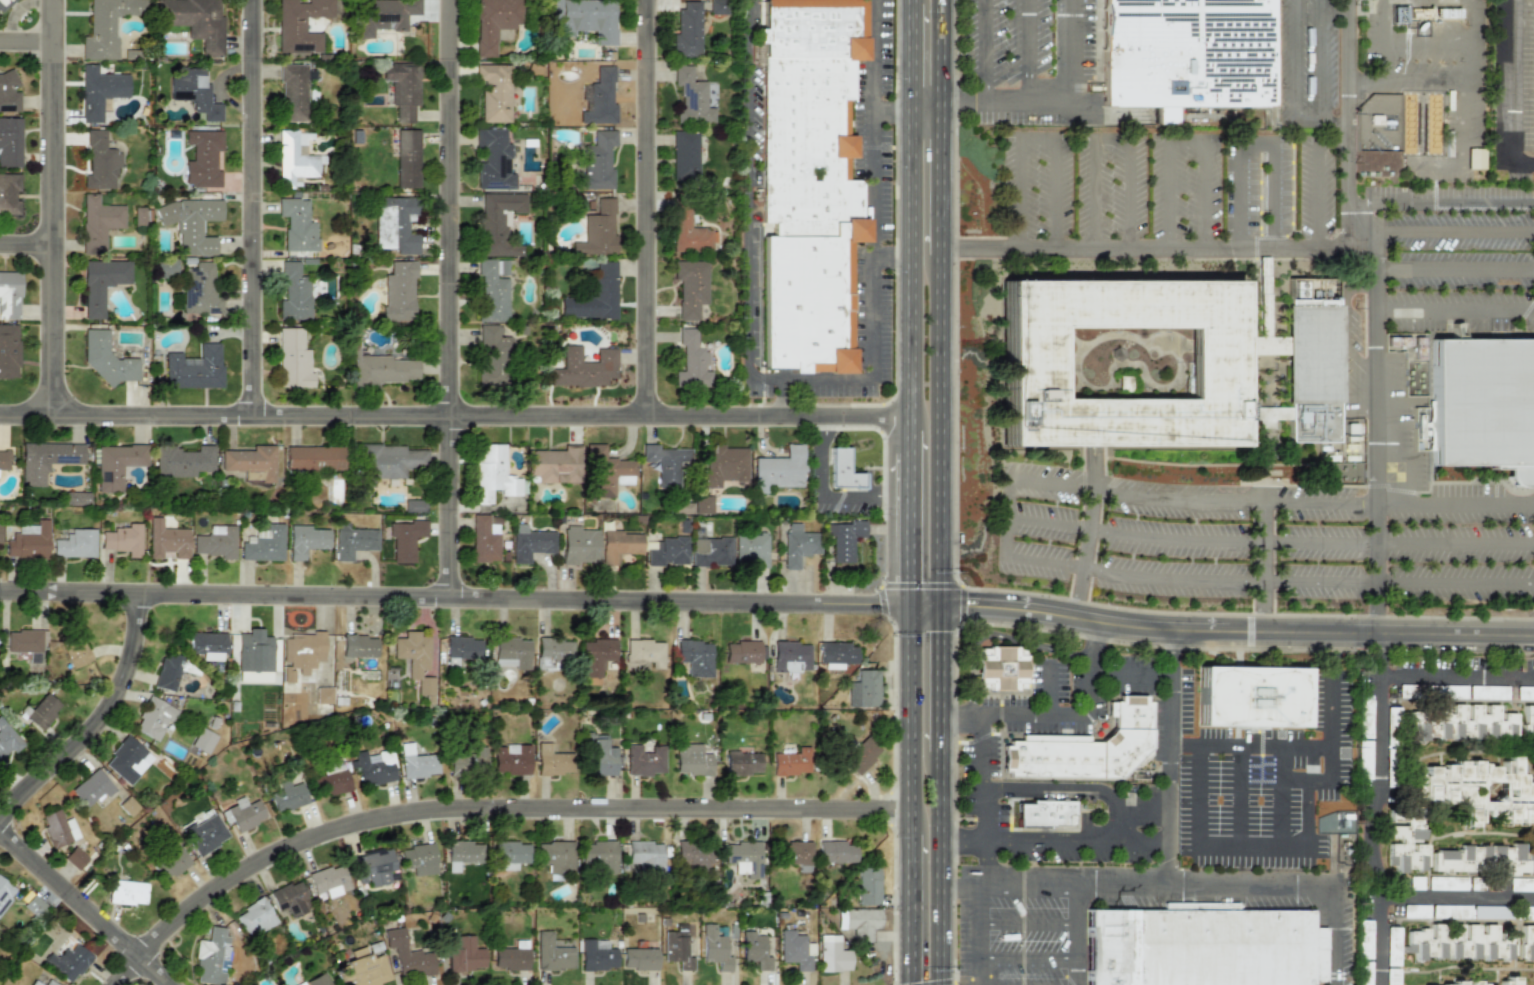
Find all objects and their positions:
road: (908, 1)
building: (4, 4)
road: (1347, 6)
building: (717, 7)
building: (1399, 15)
building: (384, 16)
building: (584, 18)
building: (194, 22)
building: (493, 22)
building: (299, 25)
building: (106, 27)
building: (687, 30)
road: (24, 32)
road: (1426, 42)
road: (1383, 43)
road: (1468, 43)
road: (943, 51)
road: (979, 51)
road: (870, 52)
road: (908, 52)
road: (1026, 52)
road: (1078, 52)
building: (1184, 54)
road: (1320, 58)
road: (1293, 71)
road: (1466, 87)
building: (402, 88)
building: (99, 91)
building: (194, 91)
building: (293, 92)
building: (493, 92)
building: (8, 93)
road: (1510, 95)
building: (691, 97)
building: (600, 99)
road: (925, 102)
road: (889, 103)
road: (1010, 103)
road: (1334, 129)
road: (1035, 139)
building: (10, 141)
road: (1113, 142)
road: (1185, 144)
road: (1259, 146)
building: (684, 155)
building: (202, 157)
building: (407, 158)
building: (294, 159)
building: (493, 160)
building: (597, 160)
building: (99, 161)
building: (1376, 164)
road: (1317, 179)
road: (943, 180)
building: (808, 181)
building: (9, 194)
road: (48, 202)
road: (248, 202)
road: (642, 203)
road: (1454, 204)
building: (98, 222)
building: (190, 223)
building: (395, 224)
building: (498, 224)
building: (297, 225)
road: (1371, 229)
building: (597, 230)
building: (688, 231)
road: (24, 232)
road: (1159, 248)
road: (889, 258)
road: (907, 267)
building: (166, 268)
road: (1454, 268)
building: (101, 283)
building: (690, 287)
road: (1355, 288)
building: (199, 289)
building: (493, 289)
building: (398, 291)
building: (294, 293)
building: (9, 294)
building: (594, 295)
road: (445, 298)
road: (1456, 306)
road: (1343, 324)
building: (8, 351)
building: (492, 355)
building: (106, 358)
road: (1360, 358)
building: (292, 359)
building: (691, 361)
building: (1310, 361)
building: (1214, 364)
building: (583, 367)
building: (194, 368)
building: (383, 370)
road: (754, 379)
building: (1484, 405)
road: (453, 406)
road: (1378, 418)
road: (942, 432)
building: (314, 458)
building: (4, 459)
building: (46, 460)
building: (390, 460)
building: (182, 461)
building: (250, 462)
building: (664, 463)
building: (116, 464)
building: (723, 464)
building: (555, 465)
building: (778, 469)
building: (842, 469)
building: (606, 472)
building: (491, 473)
road: (825, 492)
road: (1012, 497)
road: (1273, 502)
building: (703, 504)
building: (414, 505)
road: (906, 520)
building: (122, 539)
building: (404, 539)
building: (483, 539)
building: (844, 539)
road: (1088, 539)
building: (166, 540)
building: (305, 540)
building: (29, 541)
building: (353, 541)
building: (215, 542)
building: (75, 543)
building: (530, 543)
road: (1270, 543)
building: (263, 544)
building: (579, 545)
building: (619, 545)
building: (798, 545)
building: (751, 549)
building: (667, 551)
building: (710, 551)
road: (1262, 567)
road: (1247, 580)
road: (453, 597)
road: (924, 608)
road: (1237, 631)
building: (26, 643)
building: (207, 645)
building: (359, 646)
building: (463, 647)
road: (1089, 648)
building: (75, 652)
building: (511, 652)
building: (552, 652)
building: (741, 652)
building: (300, 653)
building: (643, 653)
building: (836, 654)
building: (256, 656)
building: (596, 656)
building: (790, 656)
building: (694, 657)
building: (415, 658)
building: (1001, 668)
building: (167, 671)
road: (1144, 674)
road: (942, 680)
building: (864, 689)
road: (1050, 691)
building: (323, 695)
building: (1250, 695)
building: (42, 711)
road: (96, 712)
building: (153, 718)
building: (1364, 718)
road: (906, 720)
building: (1527, 722)
building: (1459, 723)
building: (202, 740)
building: (1086, 748)
building: (861, 755)
building: (600, 756)
building: (510, 759)
building: (1363, 759)
building: (126, 760)
building: (644, 760)
building: (691, 760)
building: (551, 761)
building: (416, 762)
building: (468, 762)
building: (742, 762)
building: (791, 762)
building: (374, 767)
building: (333, 782)
road: (1071, 786)
building: (91, 788)
road: (1381, 789)
building: (1477, 790)
building: (287, 796)
road: (1237, 796)
road: (1280, 796)
road: (475, 801)
road: (980, 804)
building: (1045, 813)
building: (242, 814)
building: (57, 828)
road: (1105, 828)
building: (204, 834)
building: (1404, 839)
road: (1053, 840)
road: (1146, 840)
road: (961, 841)
road: (1249, 848)
building: (835, 851)
building: (462, 854)
building: (510, 854)
building: (798, 854)
building: (692, 855)
building: (555, 856)
building: (599, 856)
building: (647, 856)
building: (744, 857)
building: (75, 858)
building: (418, 858)
building: (1483, 860)
building: (171, 862)
building: (373, 867)
road: (942, 868)
building: (328, 881)
building: (1416, 883)
building: (1446, 883)
building: (1476, 883)
building: (1521, 884)
building: (867, 885)
road: (1206, 890)
building: (127, 892)
road: (961, 892)
building: (5, 893)
building: (289, 898)
building: (34, 906)
road: (83, 907)
road: (907, 909)
building: (1436, 911)
building: (1530, 911)
building: (1488, 912)
building: (254, 917)
building: (859, 921)
road: (1028, 923)
road: (980, 938)
road: (1076, 938)
building: (1364, 939)
road: (1378, 940)
building: (1201, 942)
building: (1458, 942)
building: (1526, 943)
building: (1392, 946)
building: (677, 947)
building: (715, 948)
building: (755, 950)
building: (795, 950)
building: (552, 953)
building: (407, 954)
building: (464, 954)
building: (832, 954)
building: (596, 955)
building: (211, 956)
building: (511, 956)
building: (639, 959)
road: (1028, 959)
building: (67, 962)
building: (363, 969)
building: (1365, 973)
building: (1391, 976)
building: (317, 980)
building: (1508, 981)
building: (35, 983)
building: (49, 983)
building: (1468, 983)

